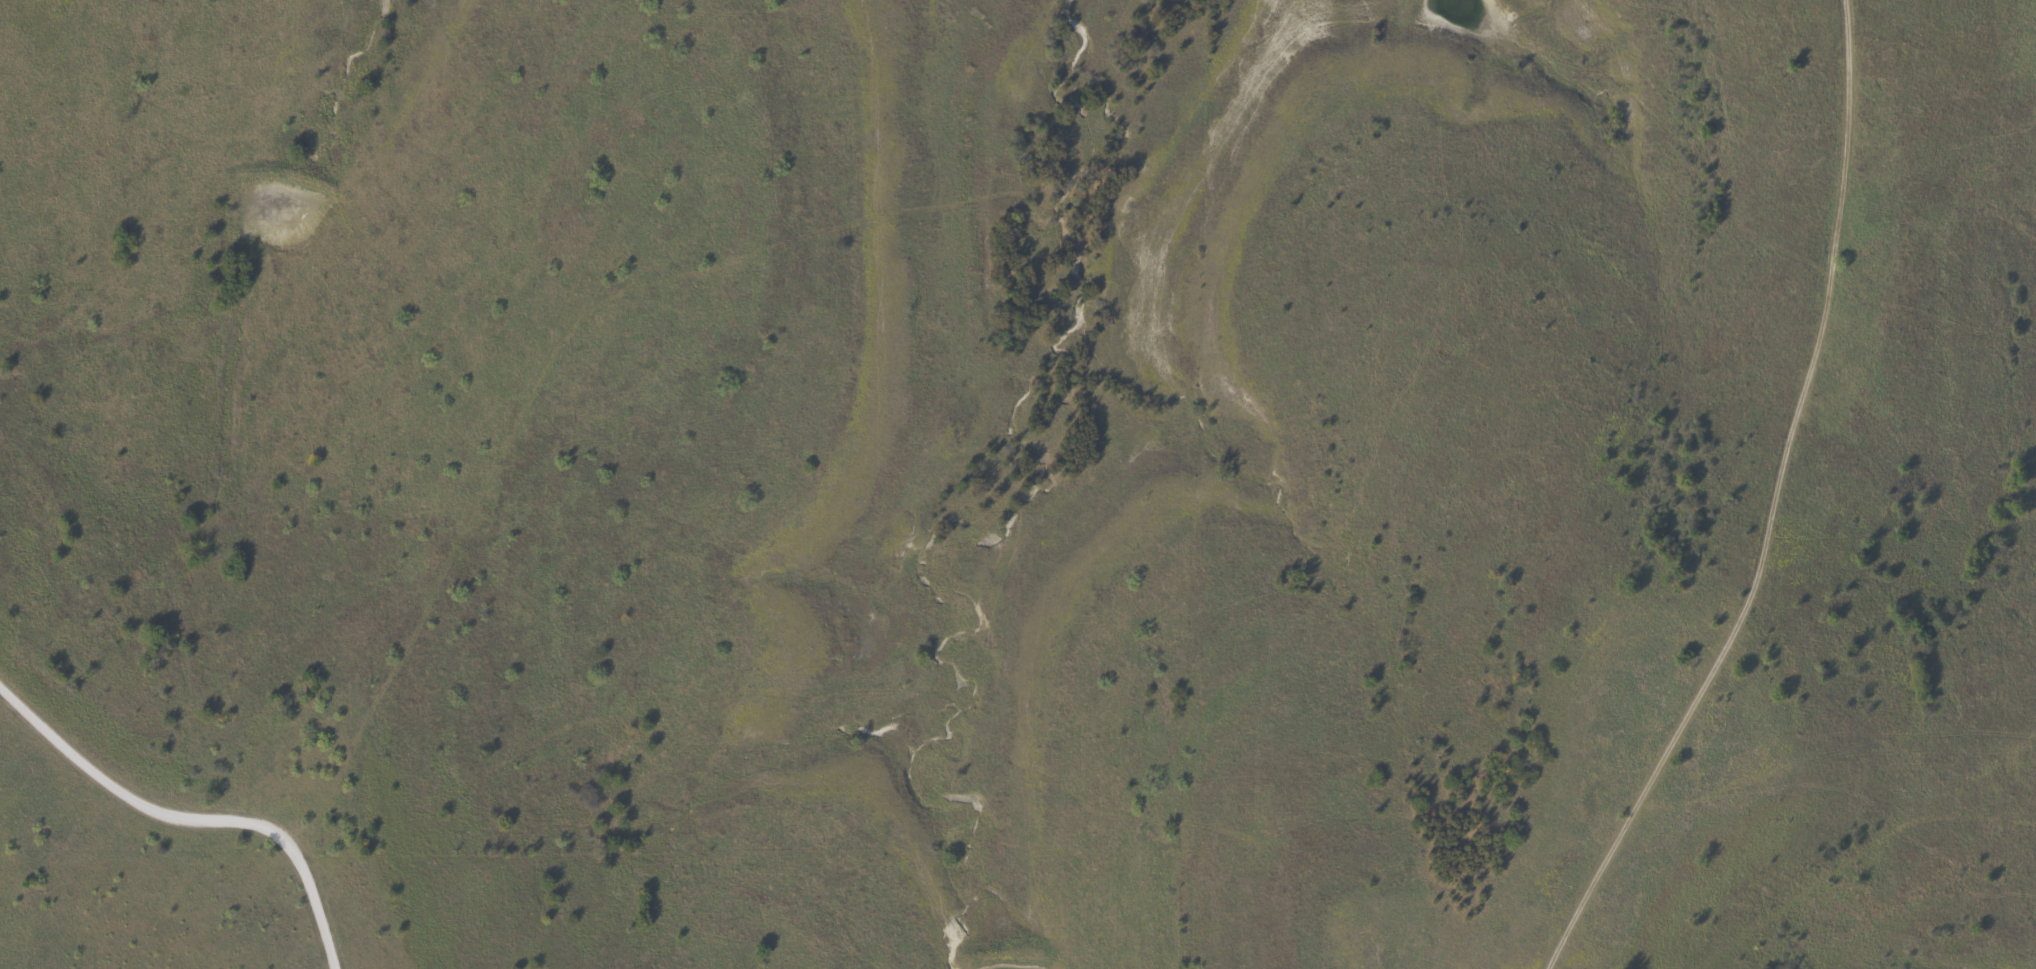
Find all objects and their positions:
road: (1752, 501)
road: (169, 827)

